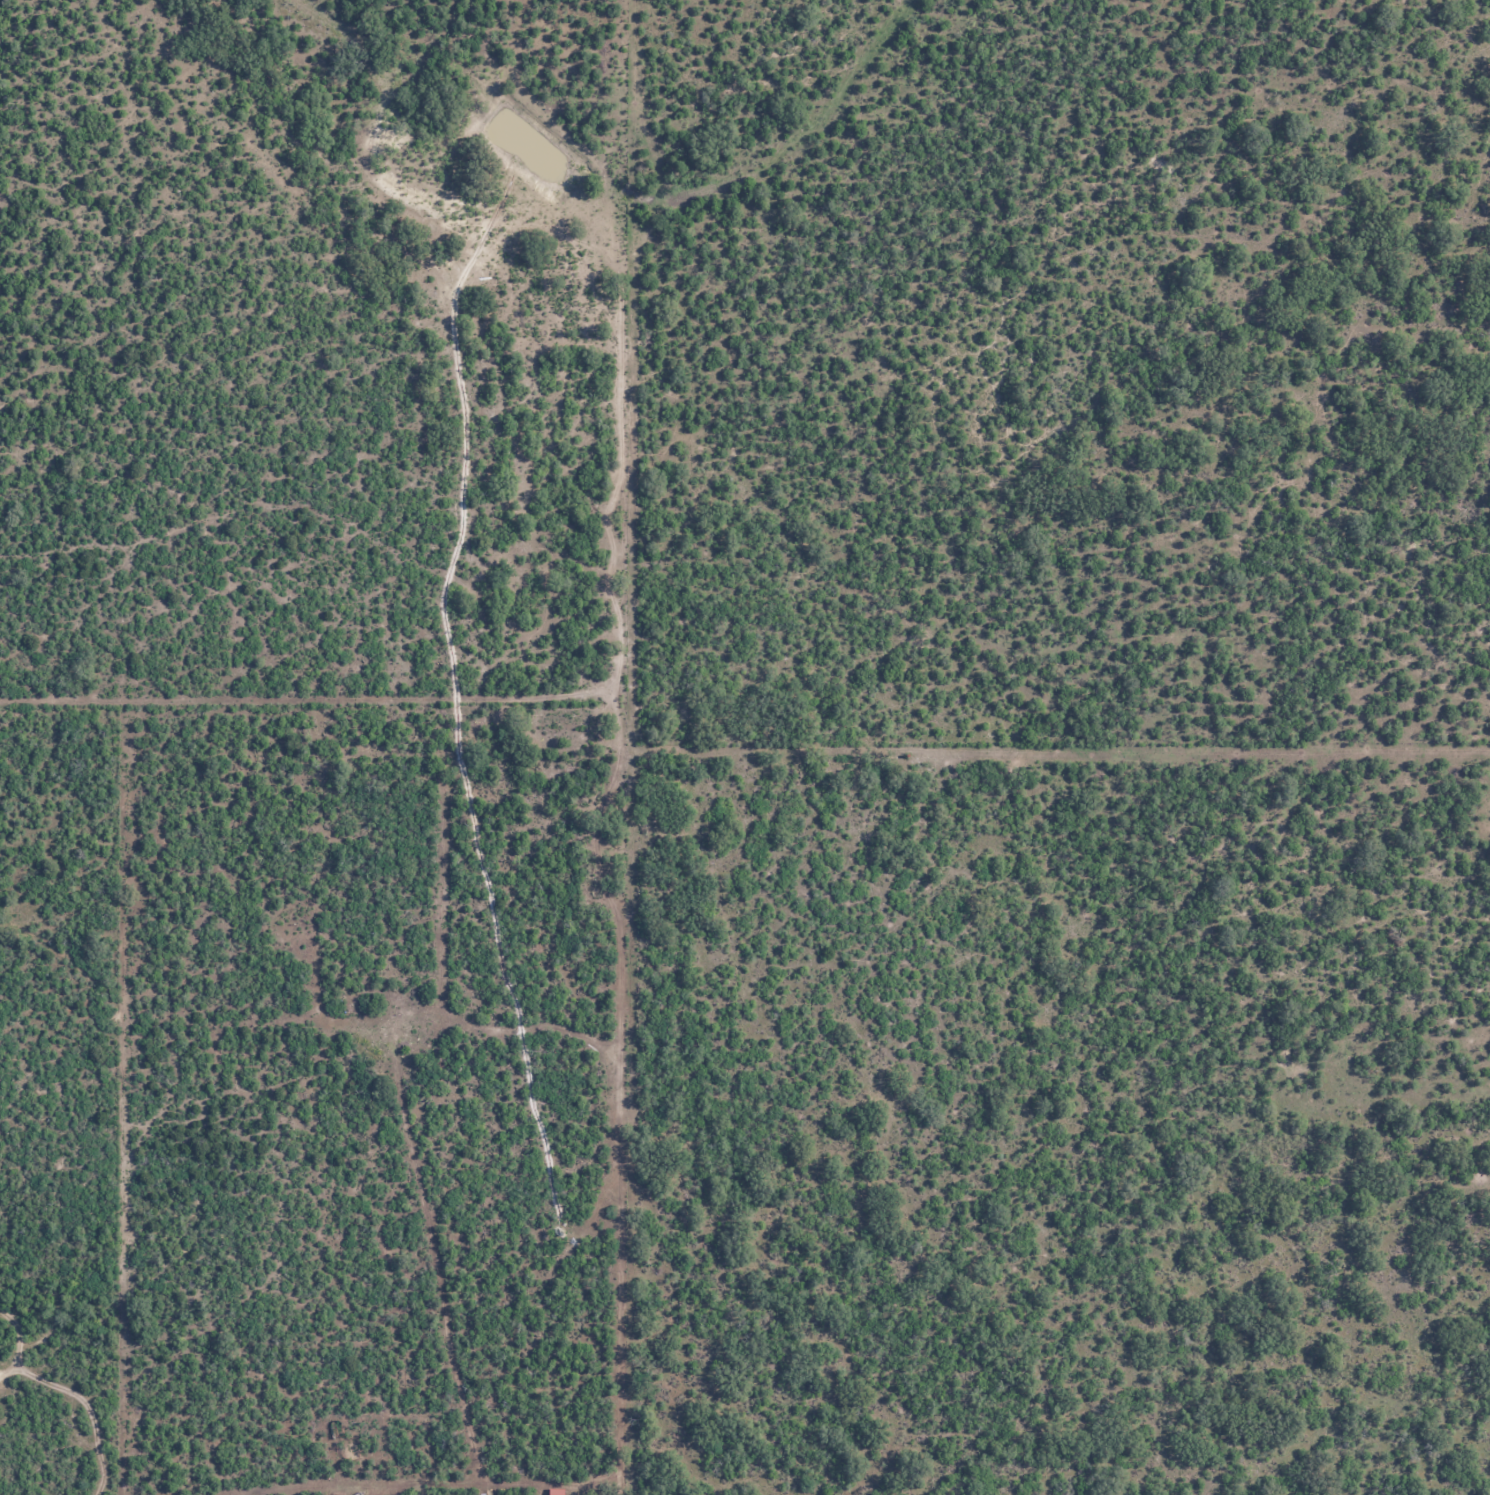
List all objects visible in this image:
building: (556, 1491)

